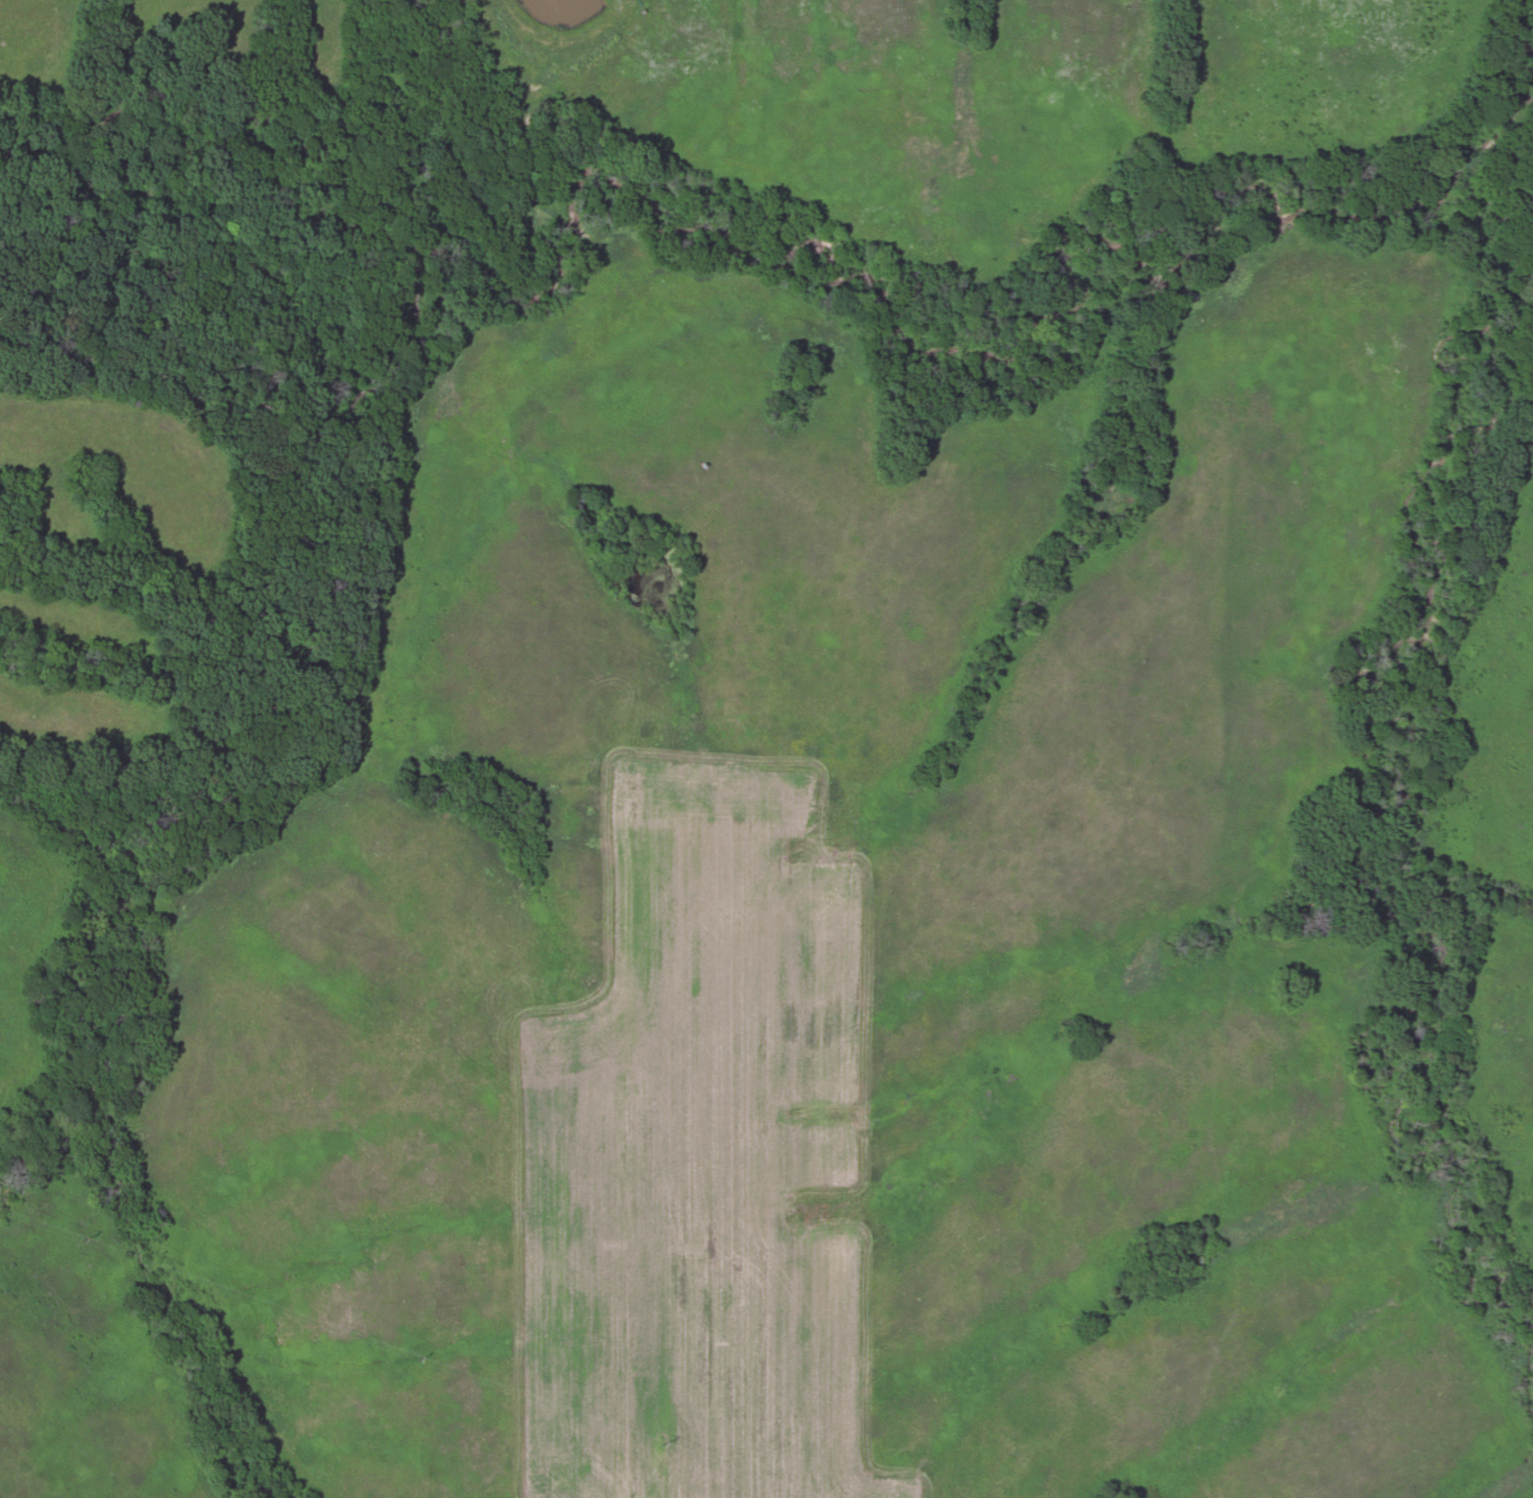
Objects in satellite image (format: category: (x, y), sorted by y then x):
crop: (721, 1144)

